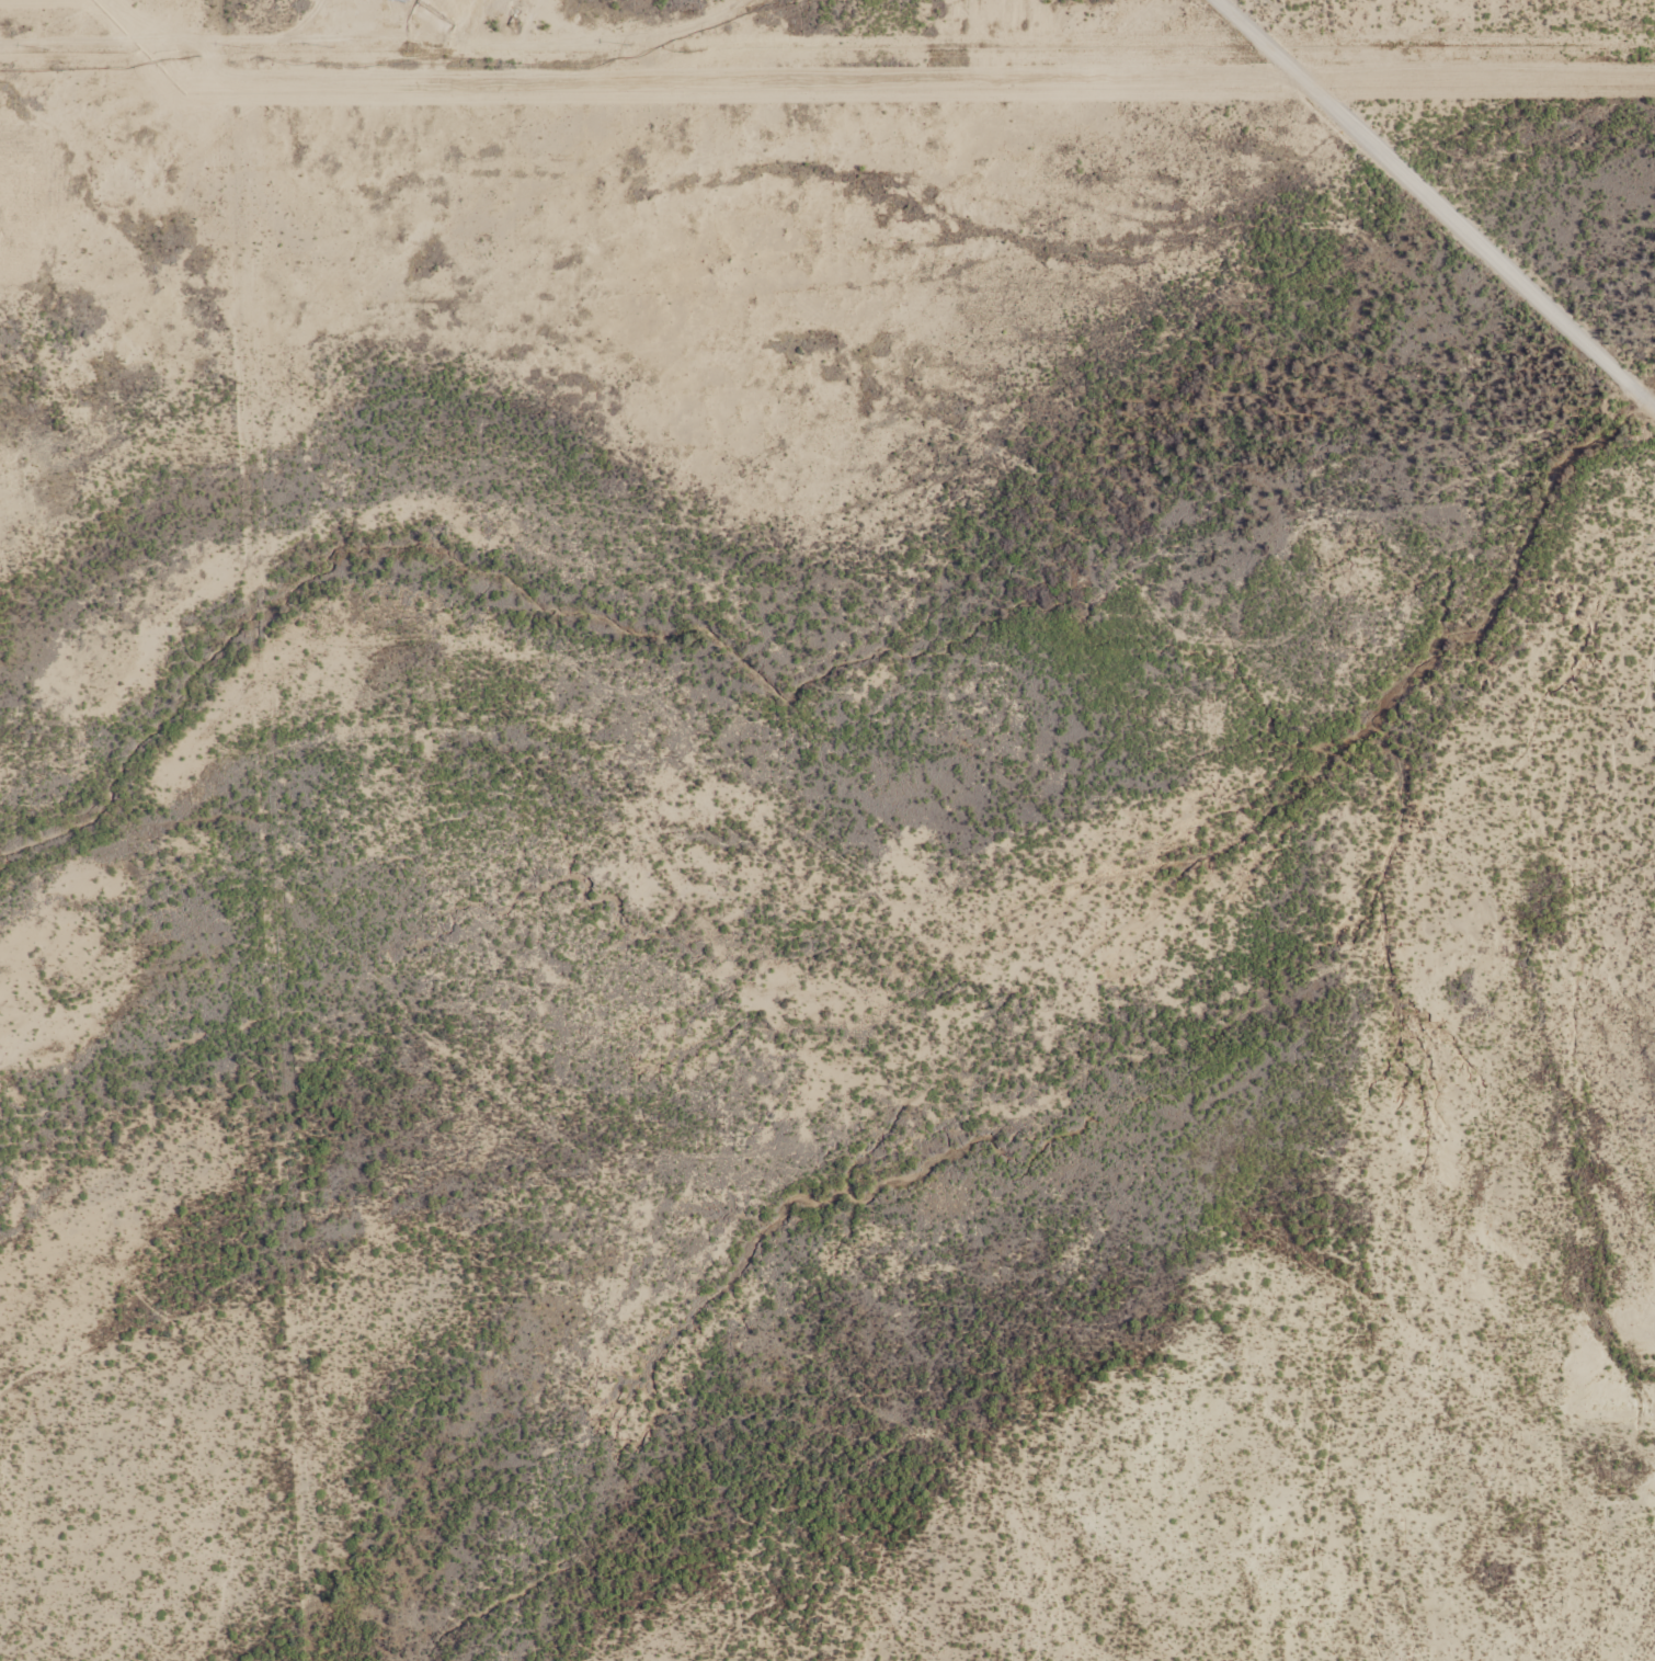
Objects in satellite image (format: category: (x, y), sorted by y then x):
road: (1423, 212)

